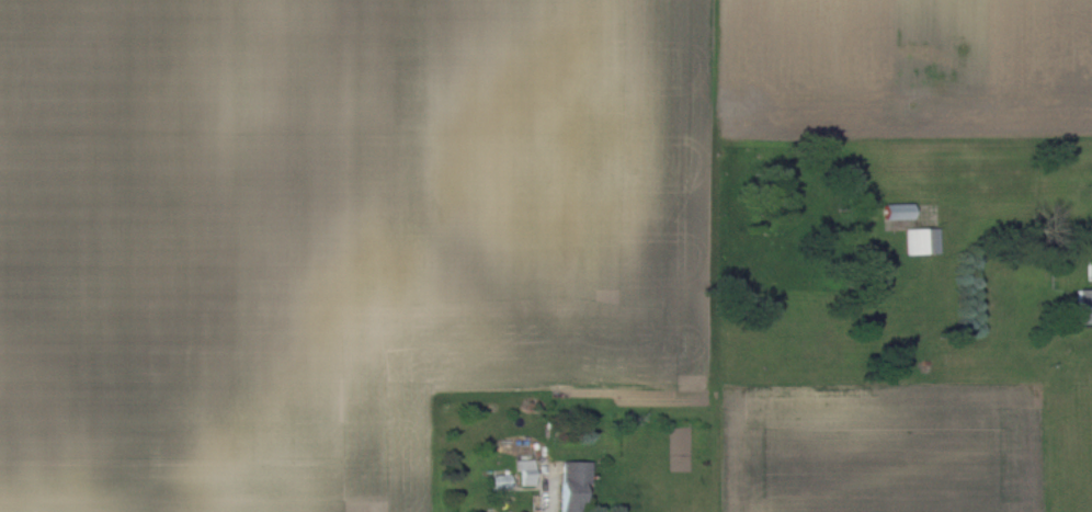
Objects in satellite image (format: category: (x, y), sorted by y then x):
building: (900, 212)
building: (923, 241)
building: (1087, 300)
building: (503, 480)
building: (576, 485)

